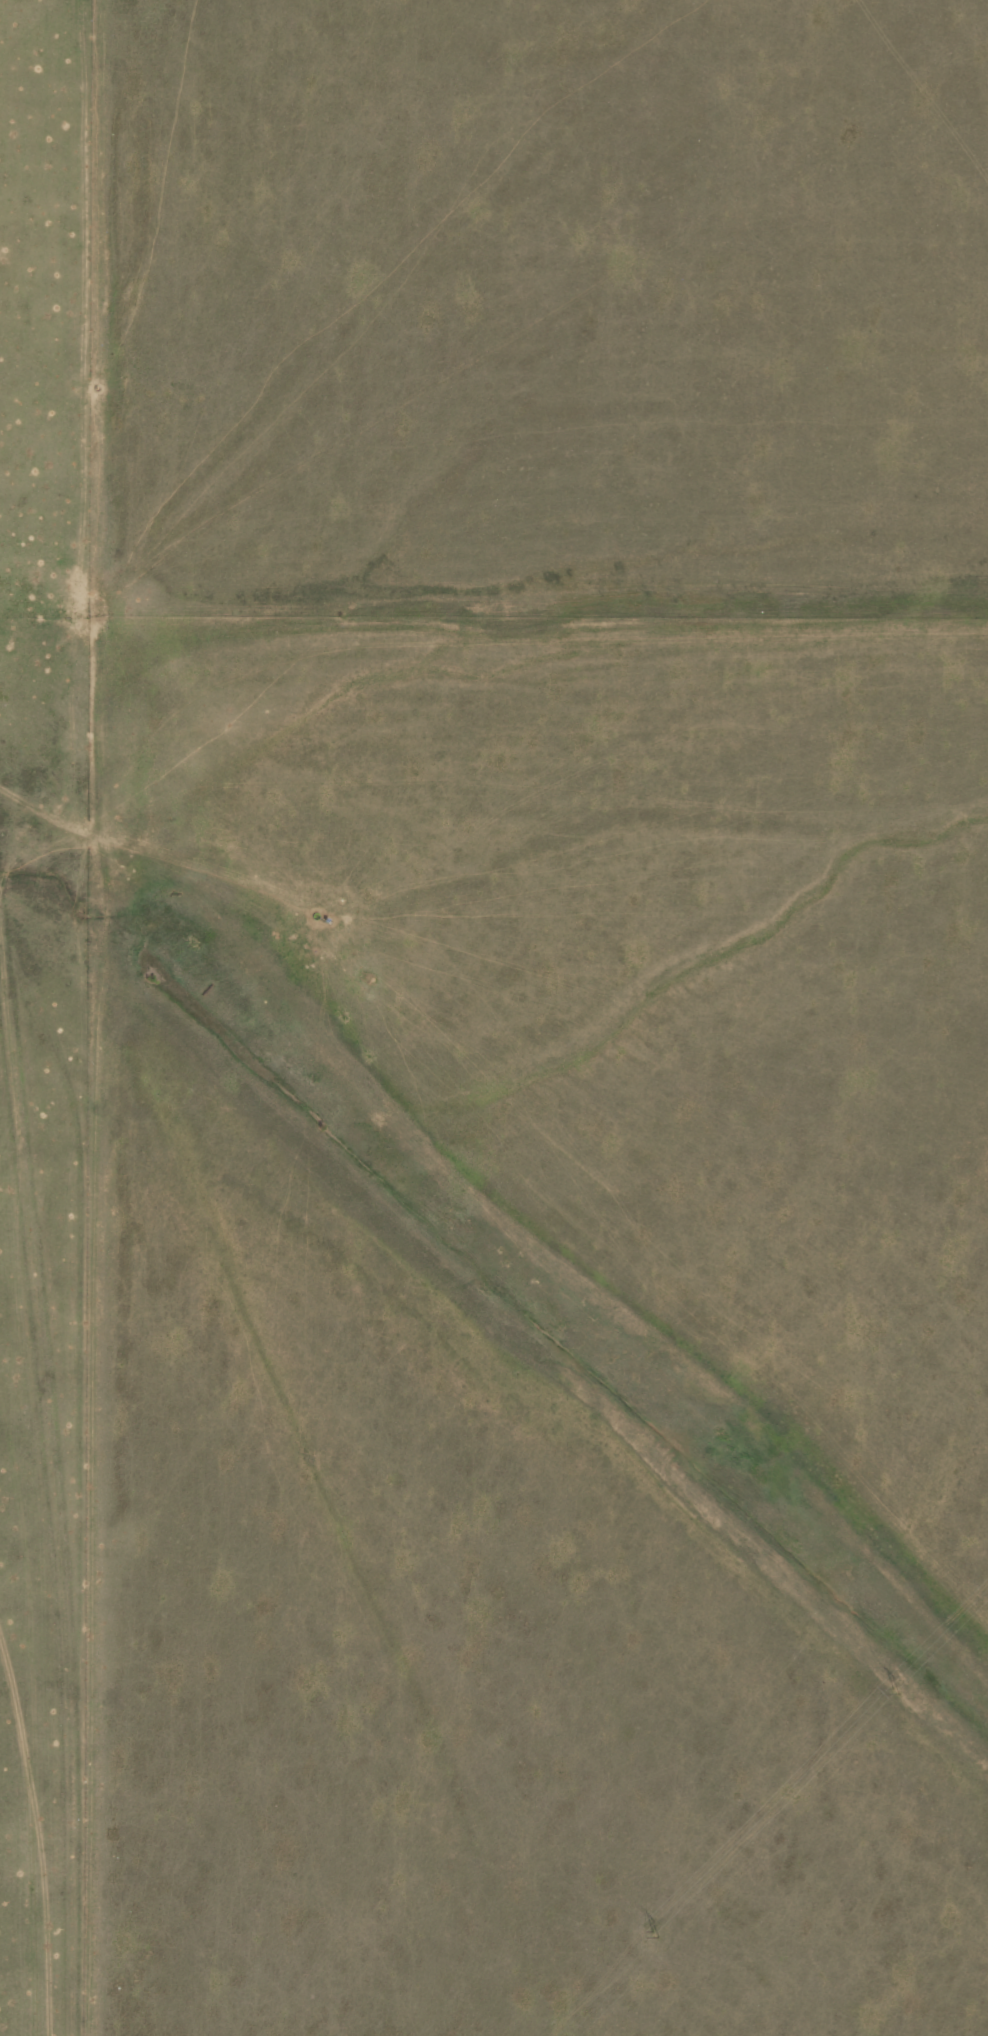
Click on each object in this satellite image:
power tower: (895, 1690)
power tower: (654, 1933)

